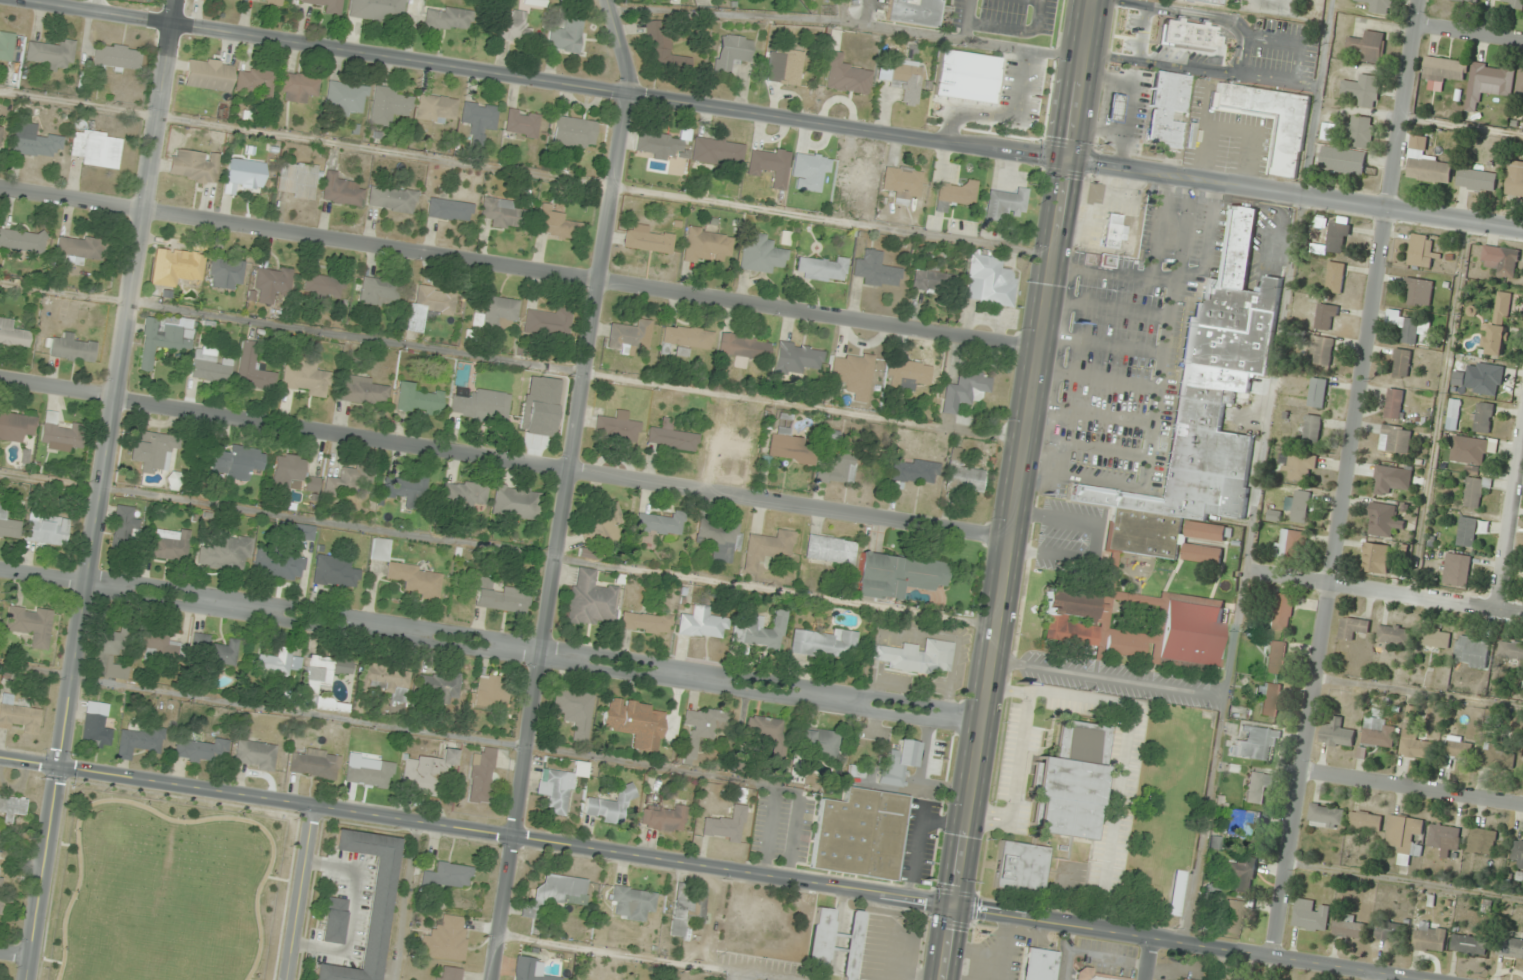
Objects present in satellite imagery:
building: (268, 1)
building: (1205, 1)
building: (1468, 1)
building: (535, 3)
building: (1513, 4)
building: (327, 5)
building: (1379, 6)
building: (378, 10)
building: (912, 11)
building: (449, 19)
building: (513, 26)
road: (1471, 32)
building: (1179, 33)
building: (566, 35)
building: (655, 42)
building: (6, 45)
building: (1369, 47)
building: (730, 52)
building: (51, 53)
building: (117, 56)
building: (784, 65)
building: (1445, 70)
building: (208, 74)
building: (845, 75)
building: (1491, 79)
building: (906, 80)
building: (254, 81)
building: (1520, 84)
building: (298, 87)
building: (1363, 90)
building: (345, 98)
building: (1011, 105)
building: (388, 106)
building: (1165, 107)
building: (435, 108)
building: (1114, 108)
road: (774, 115)
building: (478, 121)
building: (522, 123)
road: (1463, 127)
building: (0, 129)
building: (1329, 131)
building: (1360, 131)
building: (574, 132)
building: (35, 141)
building: (1418, 143)
building: (655, 145)
building: (1288, 146)
building: (96, 148)
building: (717, 151)
traffic signals: (1067, 159)
building: (1342, 160)
building: (769, 164)
building: (193, 166)
building: (1429, 169)
building: (809, 170)
building: (244, 174)
building: (855, 175)
building: (298, 180)
building: (1476, 180)
building: (1515, 180)
building: (902, 183)
building: (341, 190)
building: (955, 194)
building: (392, 199)
building: (1004, 205)
building: (449, 209)
building: (505, 213)
building: (556, 222)
road: (1160, 227)
building: (1112, 233)
road: (1208, 237)
building: (1338, 237)
building: (648, 239)
building: (22, 240)
building: (708, 244)
building: (80, 247)
building: (1422, 251)
building: (761, 253)
building: (1501, 260)
building: (176, 267)
road: (519, 267)
building: (821, 268)
building: (877, 270)
building: (226, 272)
road: (1112, 273)
building: (1335, 278)
building: (928, 281)
building: (989, 281)
building: (271, 283)
building: (324, 285)
building: (379, 292)
building: (1418, 292)
building: (429, 306)
road: (1107, 308)
building: (496, 314)
building: (1326, 317)
building: (547, 322)
building: (1499, 324)
building: (1411, 327)
building: (12, 334)
building: (631, 334)
building: (686, 337)
building: (162, 339)
road: (1102, 344)
building: (744, 346)
building: (73, 349)
building: (1321, 350)
building: (796, 358)
building: (210, 364)
building: (1402, 364)
building: (253, 368)
building: (910, 373)
road: (1160, 373)
building: (853, 374)
building: (305, 379)
building: (1488, 379)
road: (1096, 380)
building: (965, 389)
building: (364, 390)
building: (1318, 393)
building: (417, 399)
building: (1395, 404)
building: (481, 405)
road: (1439, 409)
building: (537, 410)
road: (1066, 411)
building: (1453, 414)
building: (1203, 415)
building: (1482, 417)
road: (1111, 418)
building: (16, 426)
building: (617, 427)
building: (1312, 429)
building: (60, 434)
building: (672, 436)
building: (1396, 439)
building: (730, 446)
building: (791, 448)
building: (1470, 450)
building: (153, 451)
road: (1106, 451)
road: (504, 459)
building: (237, 462)
building: (1299, 467)
building: (836, 470)
building: (914, 471)
building: (288, 472)
road: (1055, 474)
building: (963, 476)
road: (1345, 477)
building: (349, 478)
building: (1388, 479)
building: (313, 484)
road: (566, 488)
road: (96, 489)
building: (409, 489)
road: (1016, 490)
building: (1475, 491)
building: (463, 495)
building: (515, 502)
building: (1299, 506)
building: (1383, 520)
building: (126, 522)
building: (661, 523)
road: (1509, 523)
building: (9, 524)
building: (604, 526)
building: (48, 528)
building: (299, 531)
building: (1467, 532)
building: (718, 538)
building: (168, 545)
building: (1290, 545)
building: (768, 548)
building: (830, 550)
building: (223, 553)
building: (1201, 554)
building: (1376, 558)
building: (279, 564)
building: (1457, 569)
building: (335, 571)
building: (409, 573)
road: (41, 574)
building: (896, 574)
road: (83, 580)
road: (1387, 593)
building: (500, 597)
building: (592, 600)
road: (228, 604)
building: (1283, 612)
building: (645, 622)
building: (30, 624)
building: (701, 624)
building: (1137, 626)
road: (382, 628)
building: (1353, 628)
building: (759, 631)
building: (1394, 635)
building: (1437, 639)
building: (824, 644)
building: (152, 645)
building: (1510, 650)
building: (213, 651)
building: (1472, 652)
building: (109, 655)
building: (918, 657)
building: (1276, 657)
building: (278, 663)
road: (687, 675)
building: (325, 679)
building: (387, 680)
building: (440, 686)
building: (491, 692)
road: (1420, 693)
road: (834, 697)
building: (1269, 698)
building: (575, 711)
building: (20, 715)
building: (635, 722)
building: (97, 724)
building: (702, 728)
building: (764, 728)
building: (1378, 733)
building: (1337, 734)
building: (817, 741)
building: (139, 742)
building: (1255, 744)
building: (1415, 746)
building: (1459, 748)
building: (203, 751)
building: (255, 755)
building: (449, 756)
building: (1499, 758)
building: (315, 763)
building: (898, 763)
traffic signals: (57, 766)
building: (366, 769)
building: (856, 771)
building: (481, 776)
building: (422, 778)
building: (1070, 782)
building: (1257, 787)
building: (558, 788)
road: (1415, 788)
building: (13, 805)
building: (611, 805)
building: (1326, 816)
building: (663, 817)
building: (1365, 821)
building: (725, 825)
building: (1245, 826)
road: (475, 832)
building: (860, 834)
building: (1405, 836)
building: (1445, 839)
building: (1481, 841)
building: (1517, 855)
building: (1020, 868)
building: (1242, 873)
building: (448, 876)
road: (1407, 881)
building: (1, 889)
building: (1177, 892)
road: (302, 894)
building: (554, 895)
building: (632, 902)
building: (369, 903)
traffic signals: (952, 906)
building: (688, 907)
building: (1311, 915)
building: (1235, 916)
building: (334, 920)
building: (1390, 931)
building: (1430, 937)
building: (446, 939)
building: (820, 940)
road: (1192, 944)
building: (1469, 944)
building: (852, 945)
building: (1513, 948)
road: (14, 953)
road: (1151, 959)
building: (1038, 964)
building: (530, 969)
building: (448, 973)
road: (1376, 975)
building: (1099, 976)
building: (1183, 979)

